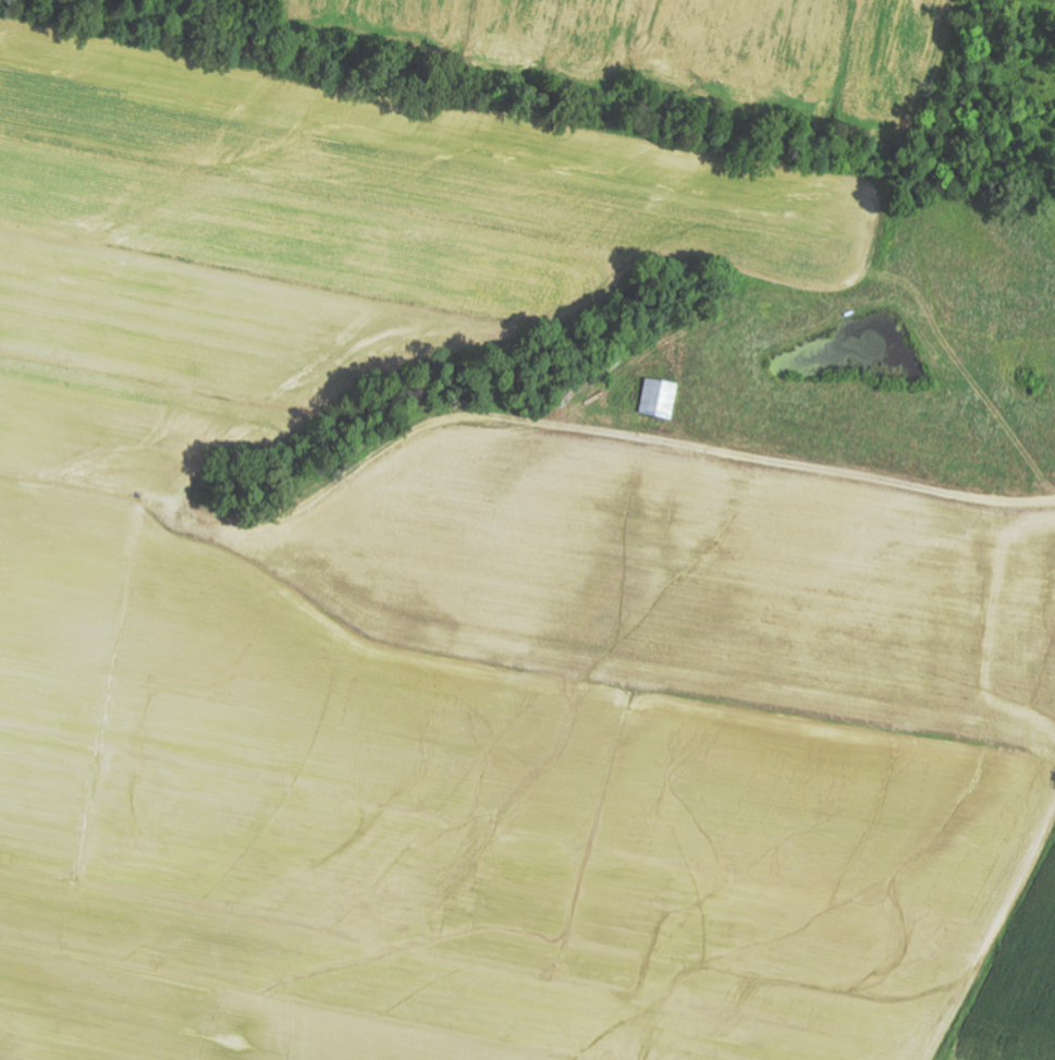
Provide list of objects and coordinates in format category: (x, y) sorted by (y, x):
building: (658, 399)

